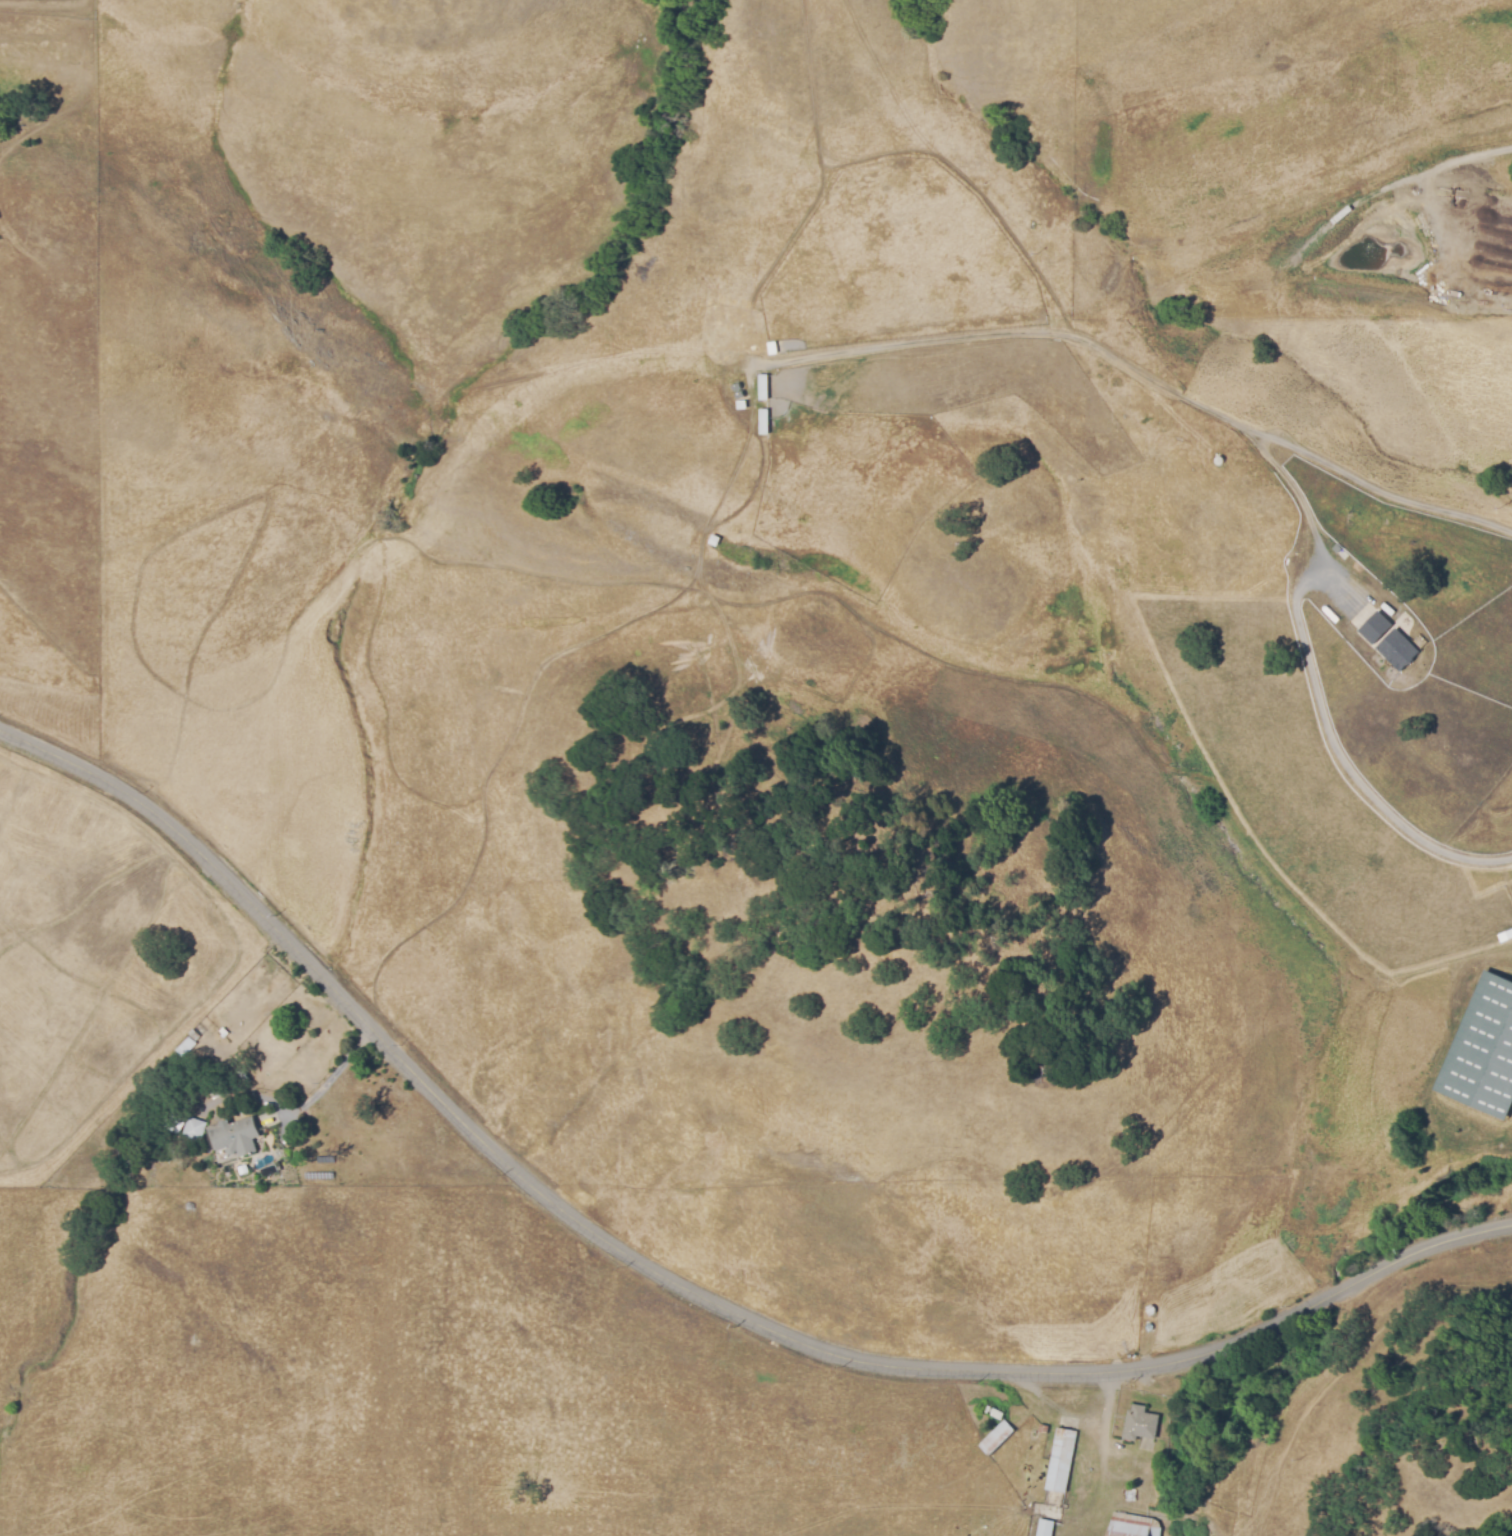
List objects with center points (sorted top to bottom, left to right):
road: (1145, 376)
building: (762, 386)
building: (1374, 626)
building: (1397, 648)
road: (1314, 687)
building: (187, 1048)
road: (324, 1088)
building: (192, 1127)
building: (238, 1137)
road: (675, 1278)
building: (994, 1411)
building: (1141, 1422)
building: (1045, 1427)
building: (997, 1435)
building: (1061, 1459)
building: (1046, 1527)
building: (1129, 1529)

